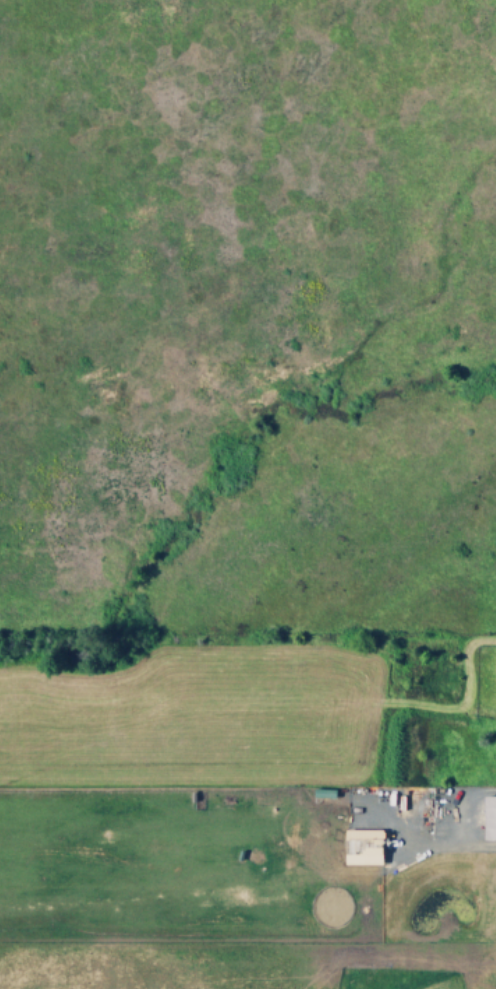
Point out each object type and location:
building: (488, 815)

